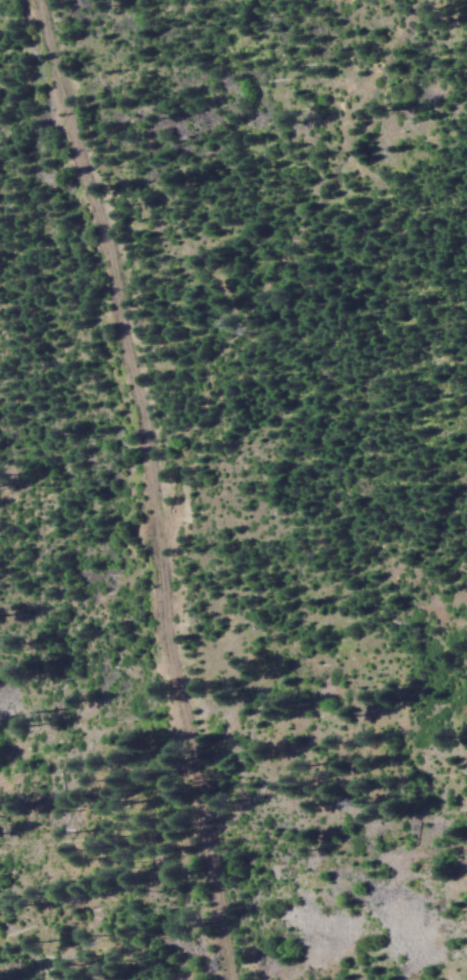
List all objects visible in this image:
road: (123, 495)

